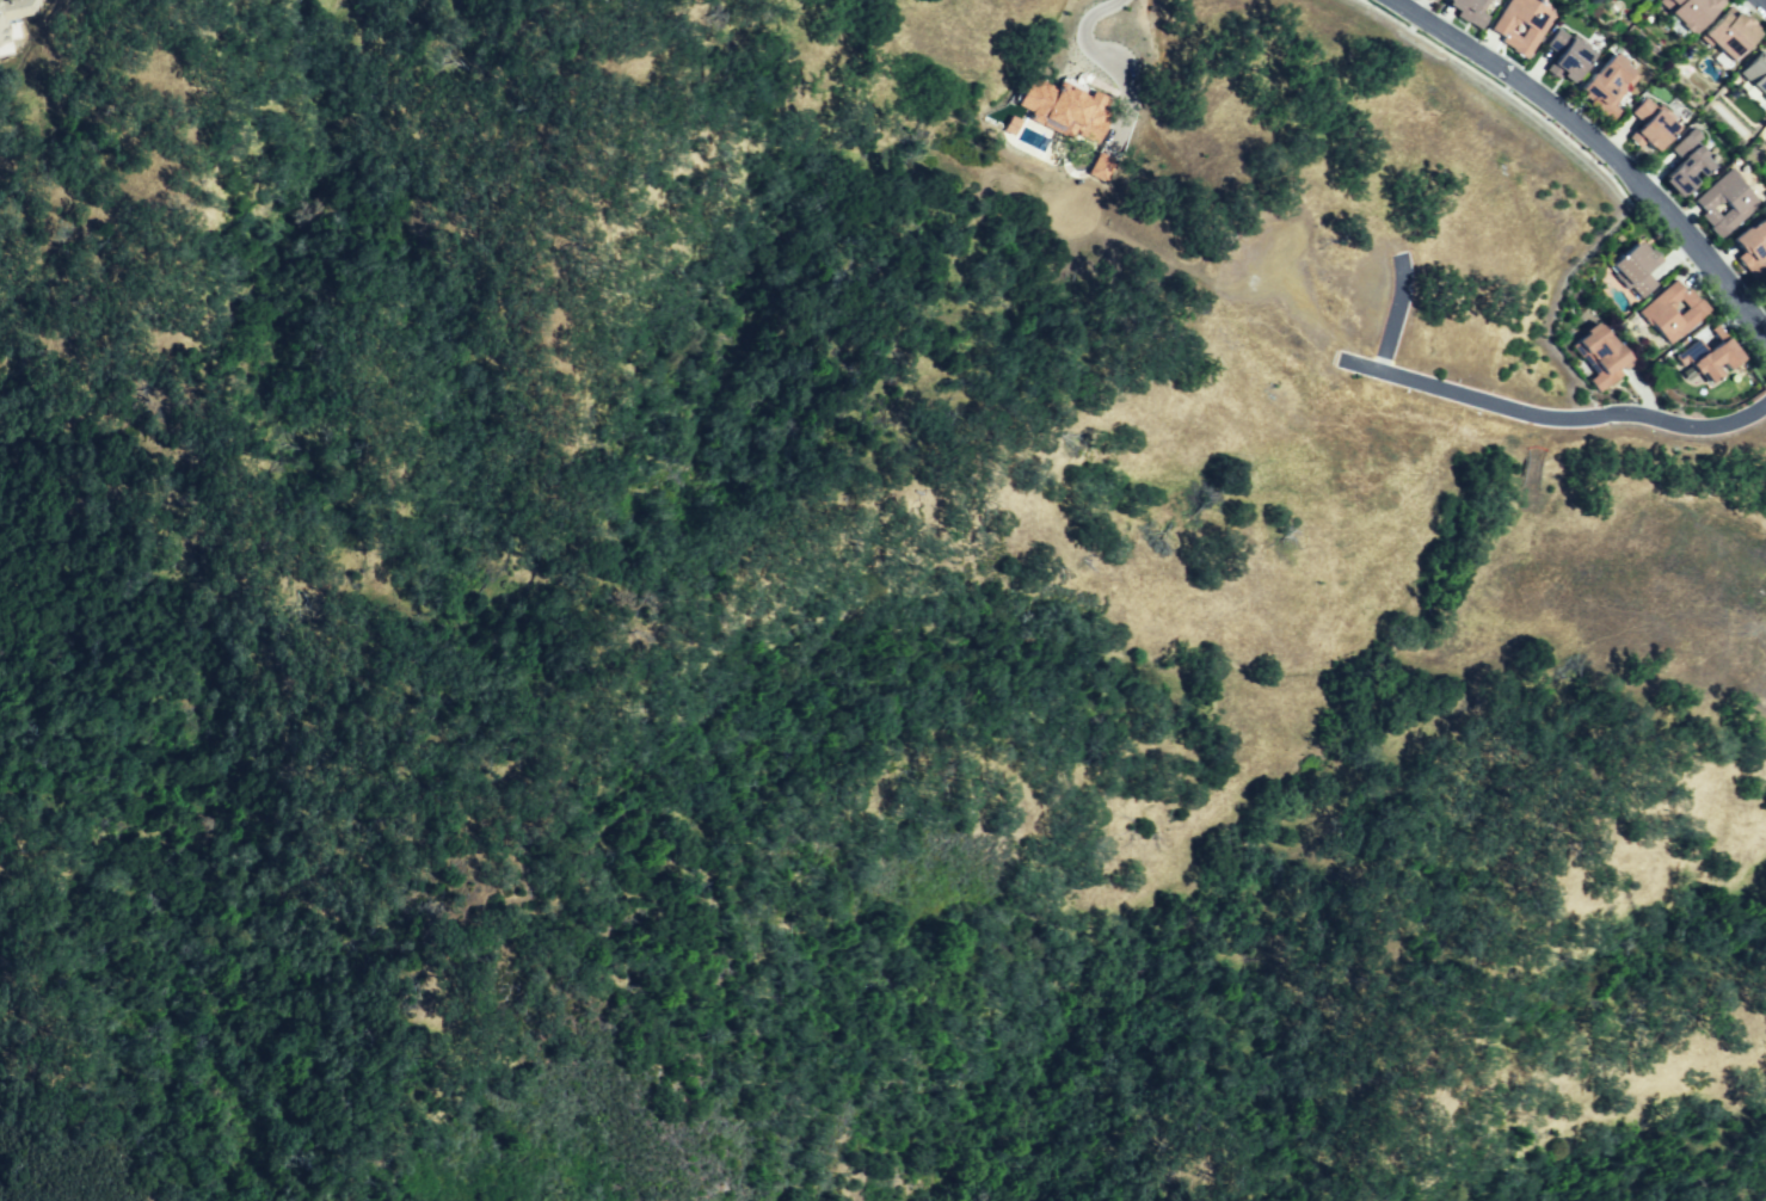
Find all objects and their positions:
building: (1427, 0)
building: (1685, 11)
building: (14, 12)
building: (1466, 12)
building: (1516, 24)
building: (1723, 36)
road: (1090, 51)
building: (1563, 56)
building: (1754, 79)
building: (1604, 86)
building: (1064, 107)
building: (1645, 125)
road: (1598, 152)
building: (1682, 164)
building: (1100, 167)
building: (1723, 202)
building: (1752, 244)
building: (1630, 272)
road: (1390, 314)
building: (1670, 316)
building: (1596, 361)
building: (1706, 364)
road: (1556, 419)
building: (1759, 426)

